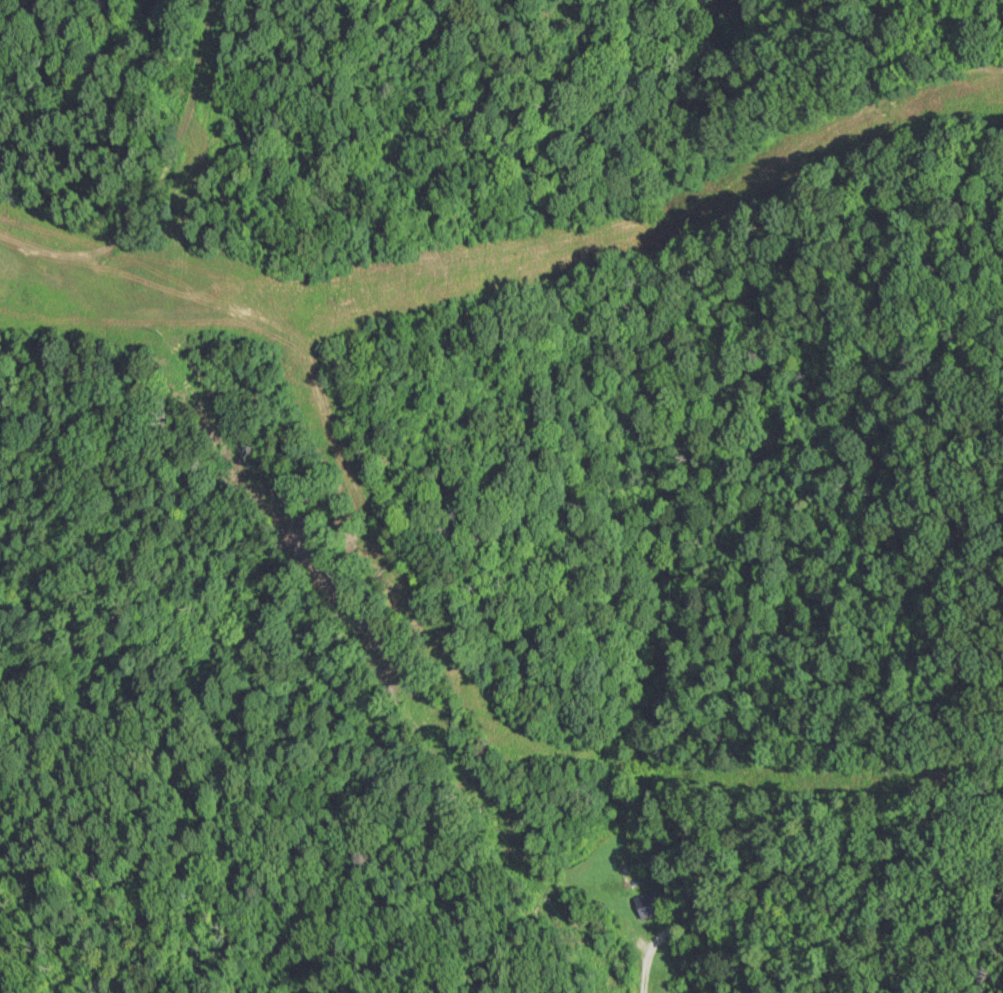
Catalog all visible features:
road: (711, 959)

